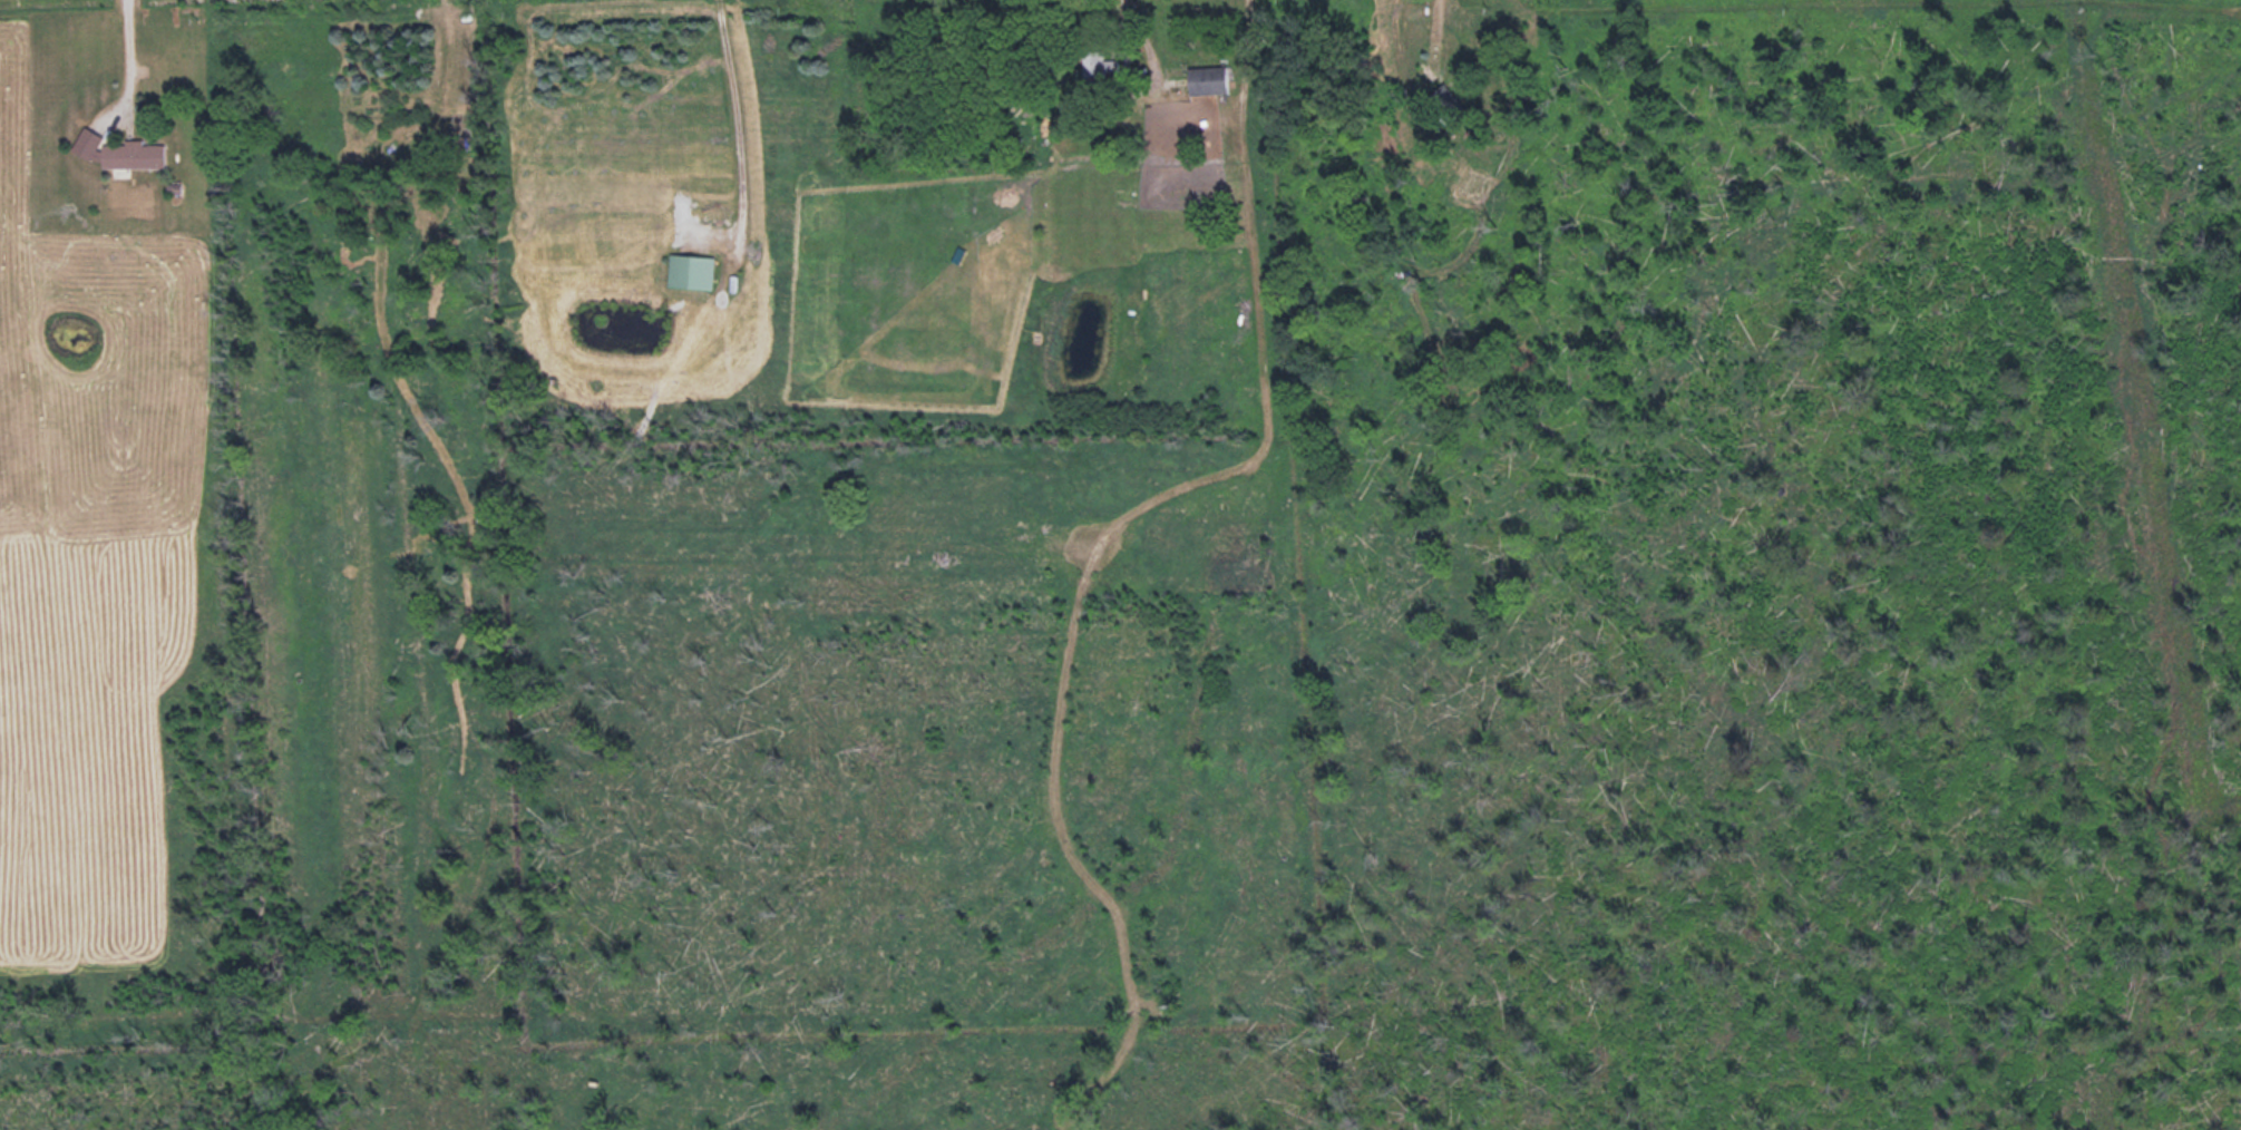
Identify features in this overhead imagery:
road: (116, 61)
building: (1098, 62)
building: (1424, 68)
building: (1206, 78)
building: (133, 153)
building: (1191, 176)
building: (691, 269)

